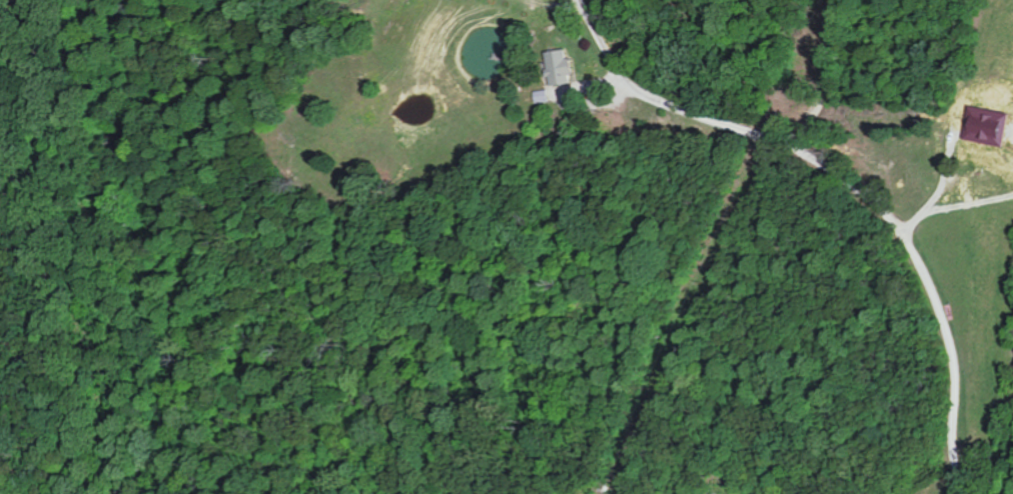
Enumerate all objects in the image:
building: (562, 67)
road: (791, 70)
road: (685, 115)
building: (990, 126)
road: (929, 281)

